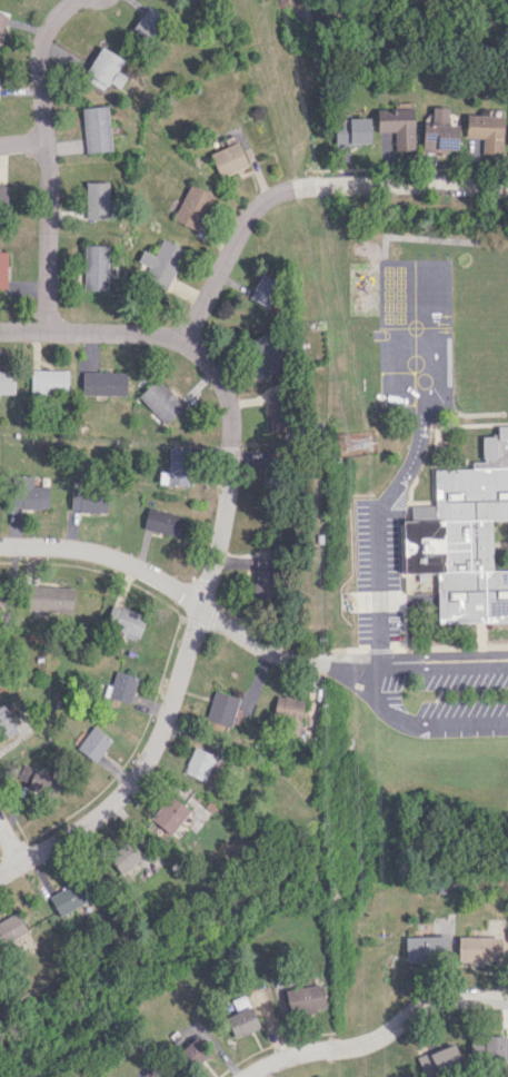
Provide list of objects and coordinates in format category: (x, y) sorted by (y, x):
building: (147, 22)
building: (2, 23)
building: (104, 69)
building: (397, 126)
building: (97, 129)
building: (351, 130)
building: (485, 131)
building: (439, 132)
road: (22, 142)
road: (46, 158)
building: (228, 159)
road: (276, 192)
building: (3, 197)
building: (97, 199)
building: (192, 207)
building: (159, 263)
building: (94, 267)
building: (3, 269)
road: (406, 274)
building: (265, 290)
road: (63, 330)
building: (267, 354)
building: (7, 382)
building: (48, 382)
building: (103, 383)
building: (159, 402)
building: (277, 412)
power tower: (357, 445)
building: (176, 467)
building: (28, 493)
building: (90, 501)
building: (162, 521)
road: (378, 532)
building: (464, 534)
building: (261, 575)
building: (50, 599)
building: (3, 600)
road: (189, 601)
building: (123, 620)
road: (186, 635)
road: (377, 685)
building: (122, 686)
building: (287, 707)
building: (221, 708)
building: (6, 723)
building: (93, 743)
building: (198, 763)
building: (23, 772)
building: (42, 783)
building: (169, 813)
road: (8, 847)
building: (124, 856)
building: (67, 897)
building: (11, 927)
building: (424, 948)
building: (478, 948)
building: (305, 998)
building: (241, 1021)
road: (380, 1037)
building: (488, 1046)
building: (192, 1053)
building: (438, 1059)

